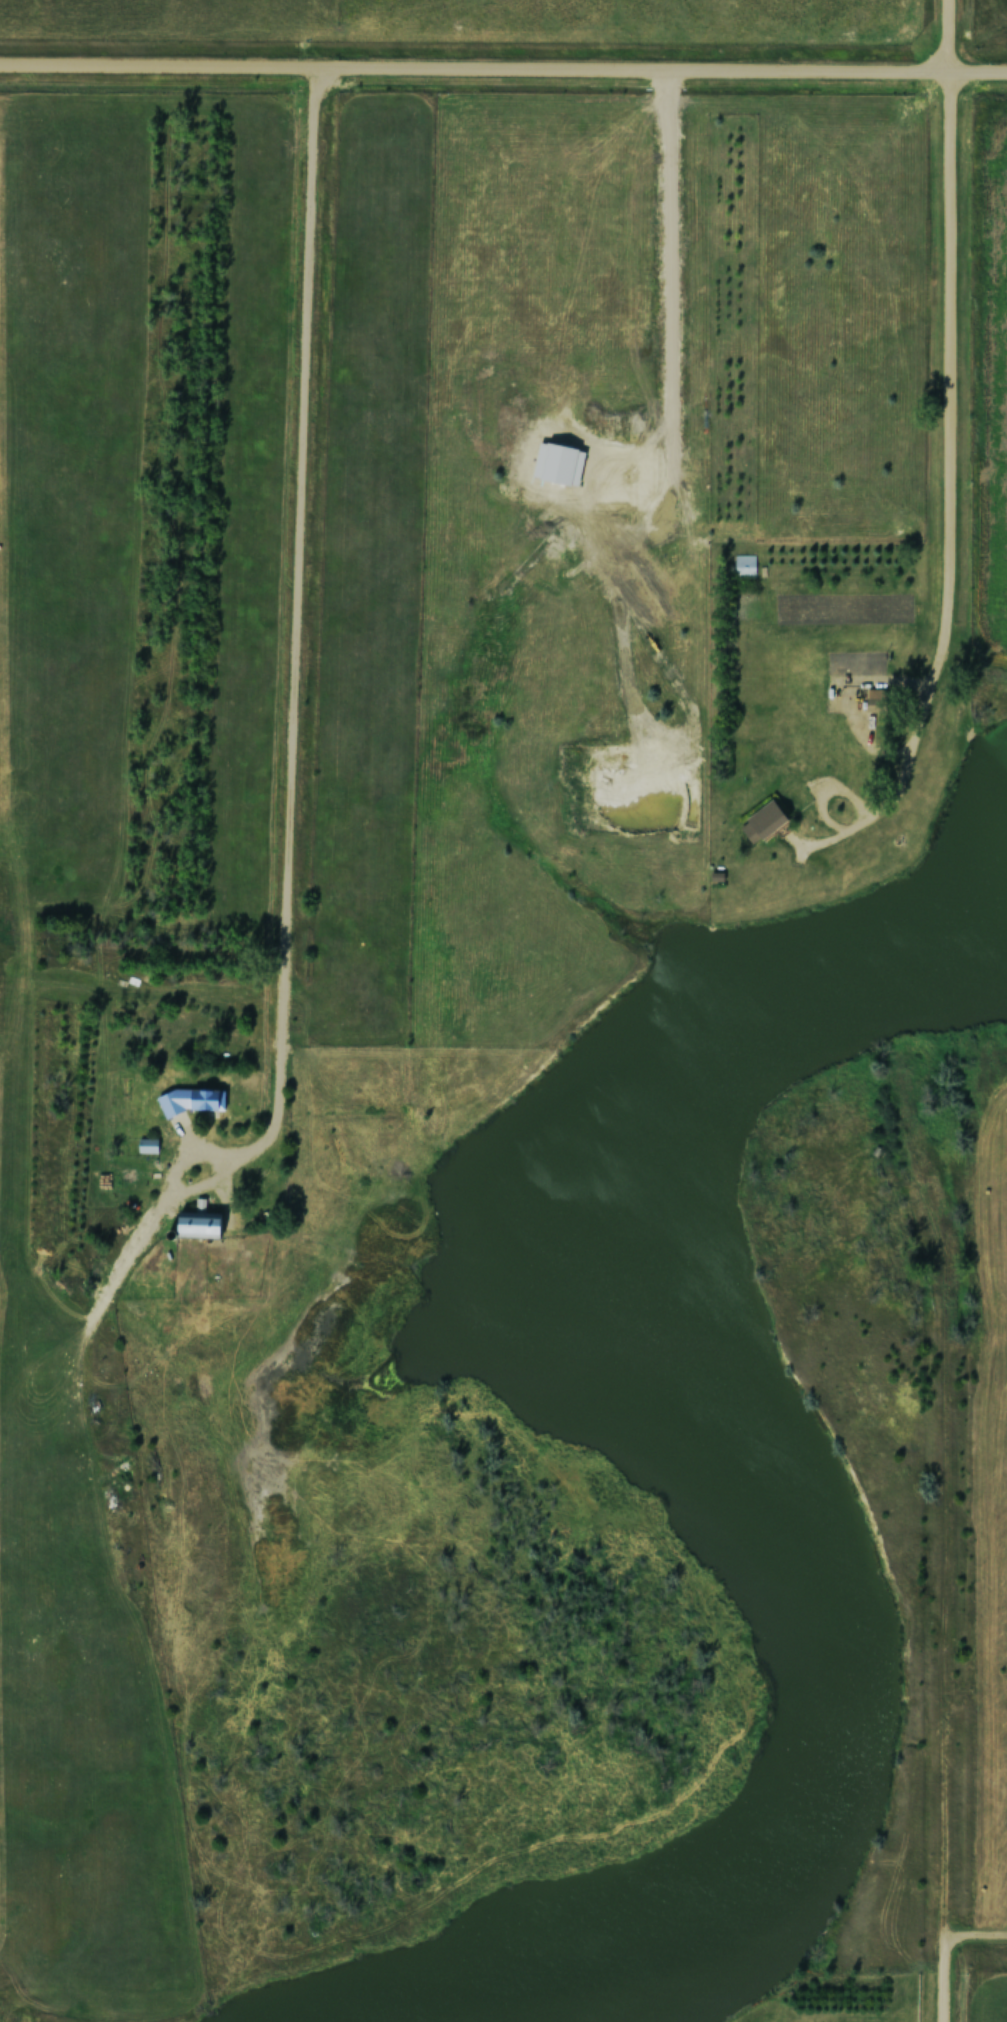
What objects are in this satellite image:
road: (503, 69)
road: (943, 308)
building: (743, 566)
building: (742, 604)
building: (876, 700)
building: (768, 820)
building: (192, 1100)
building: (200, 1225)
building: (34, 1370)
river: (752, 1496)
road: (975, 1937)
road: (942, 1979)

